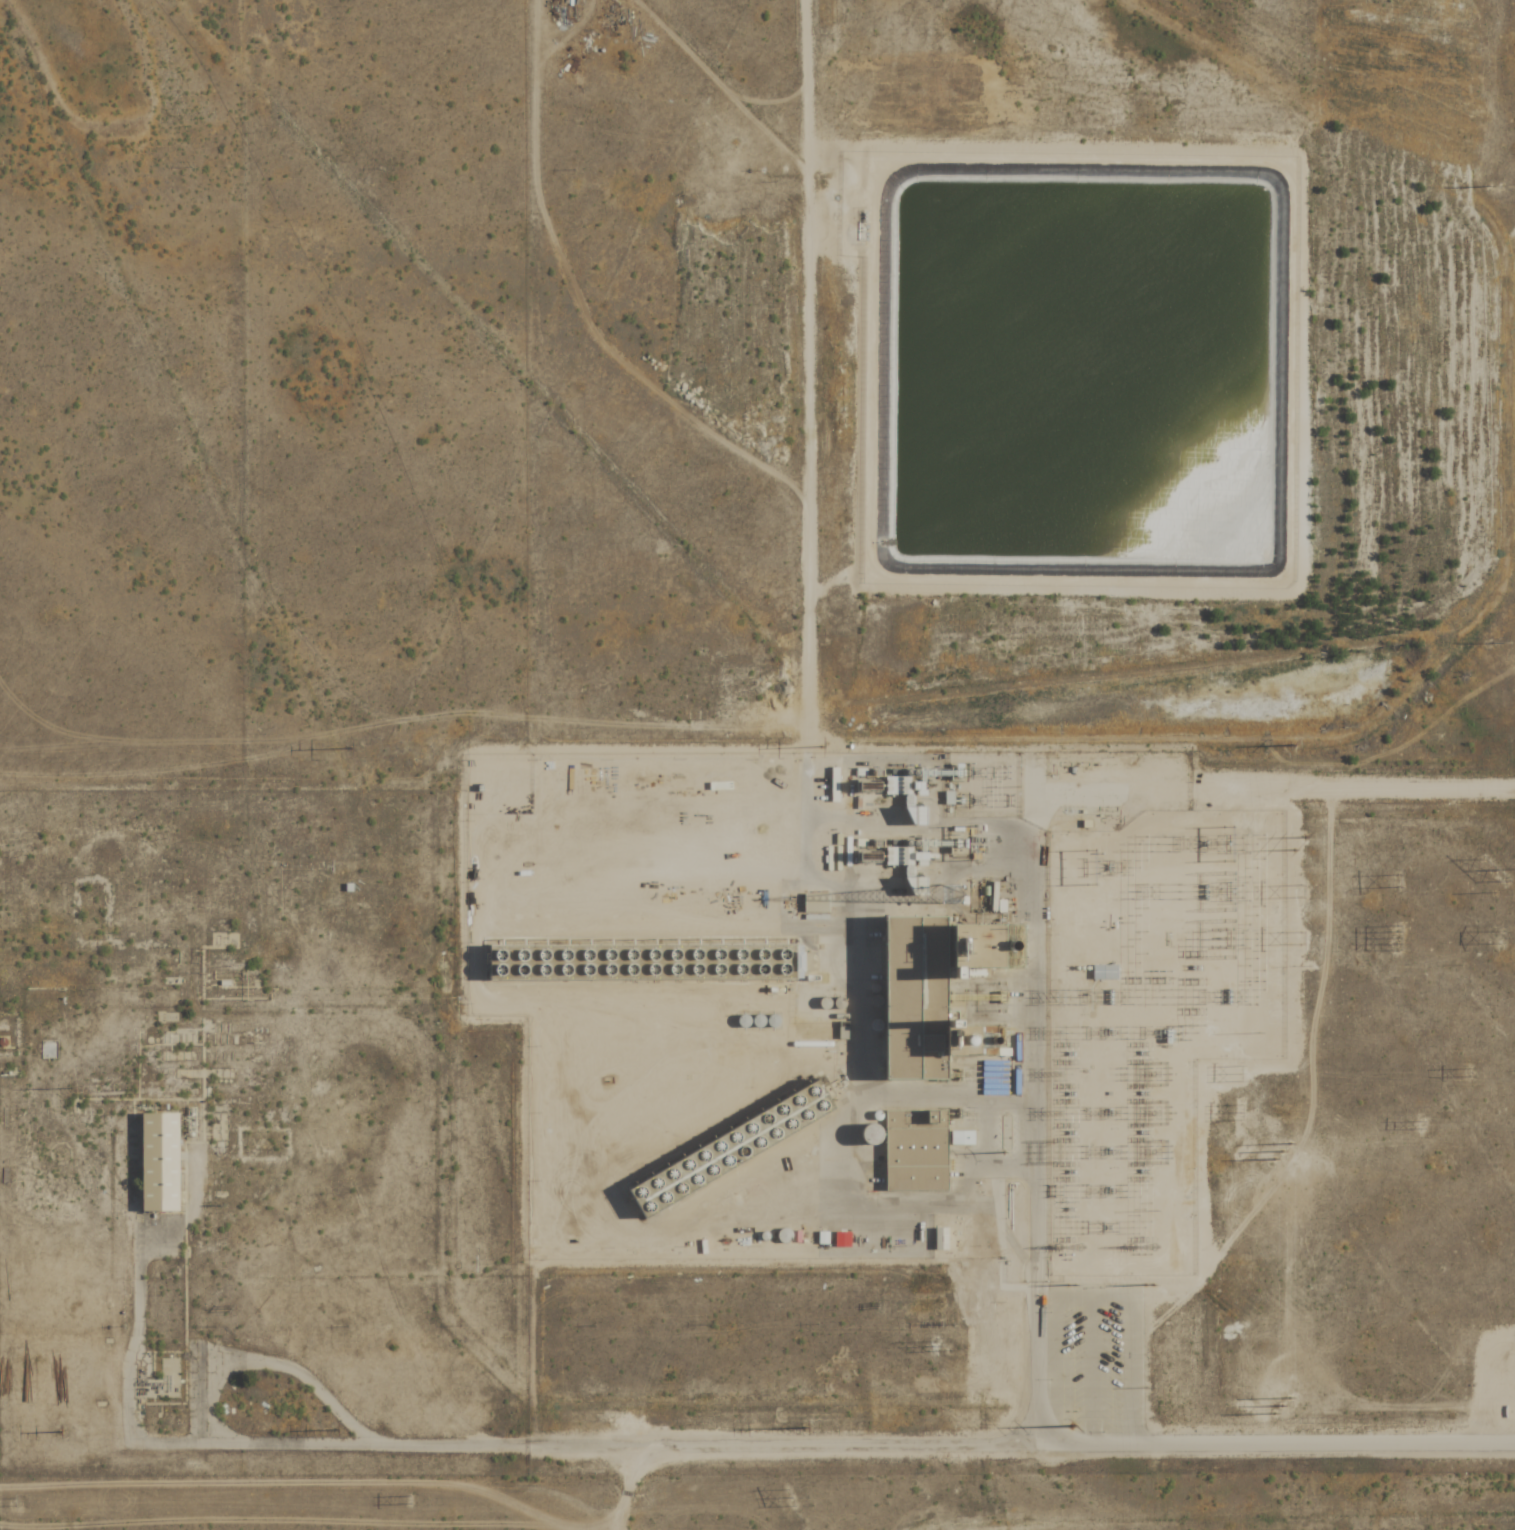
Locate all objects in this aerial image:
power tower: (1492, 187)
power tower: (1493, 641)
power tower: (1289, 746)
power tower: (350, 748)
power tower: (822, 748)
road: (1352, 790)
power tower: (1300, 845)
power tower: (1496, 869)
power tower: (1397, 881)
power tower: (1301, 891)
building: (815, 903)
power tower: (1501, 937)
power tower: (1397, 939)
chimney: (1001, 943)
building: (628, 958)
road: (1035, 958)
building: (1105, 972)
power plant: (870, 998)
power substation: (1152, 1020)
chimney: (980, 1036)
power tower: (1469, 1073)
power tower: (1240, 1074)
power tower: (1241, 1113)
power tower: (1421, 1125)
building: (960, 1139)
building: (721, 1145)
building: (915, 1151)
power tower: (1241, 1152)
building: (157, 1163)
building: (842, 1240)
building: (940, 1240)
power tower: (1148, 1285)
power tower: (1071, 1287)
power tower: (935, 1346)
road: (1041, 1361)
power tower: (1148, 1389)
power tower: (1242, 1406)
road: (135, 1412)
power tower: (800, 1430)
power tower: (1069, 1430)
power tower: (331, 1433)
power tower: (55, 1435)
road: (883, 1441)
power tower: (788, 1497)
power tower: (409, 1498)
power tower: (14, 1501)

